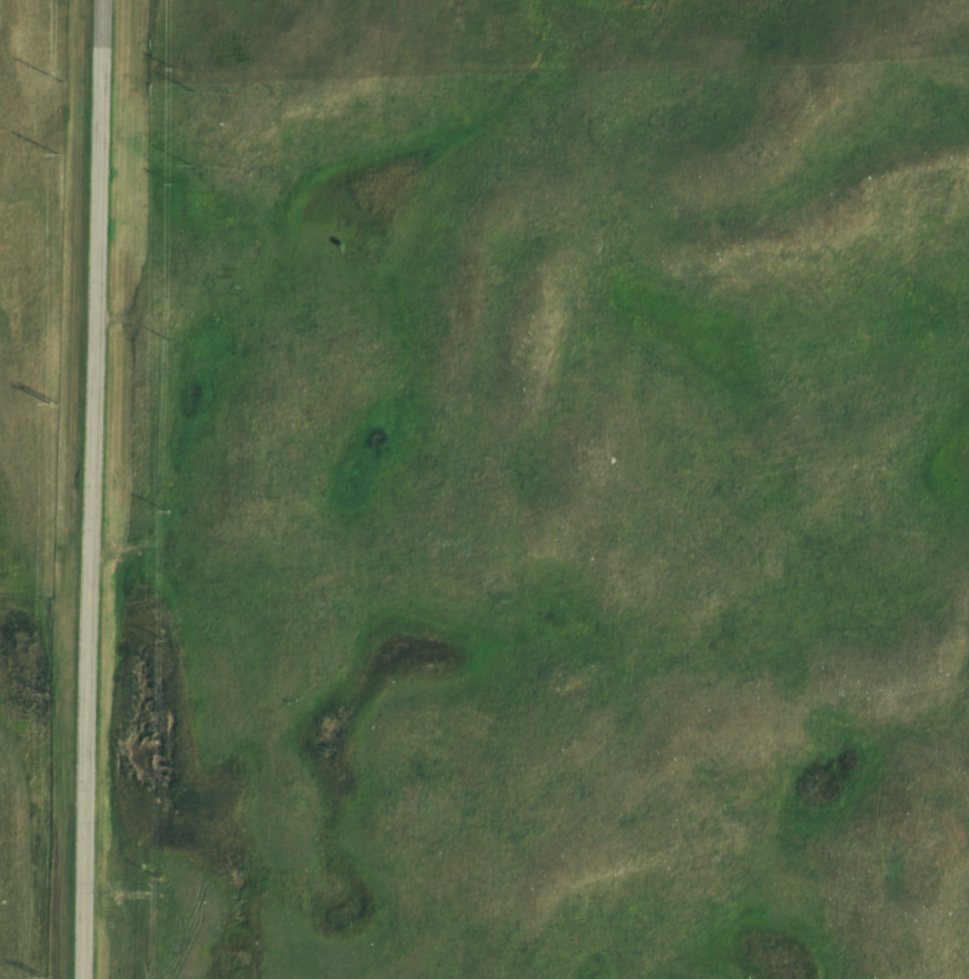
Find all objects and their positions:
power tower: (51, 402)
road: (88, 489)
power tower: (46, 695)
power tower: (42, 976)

